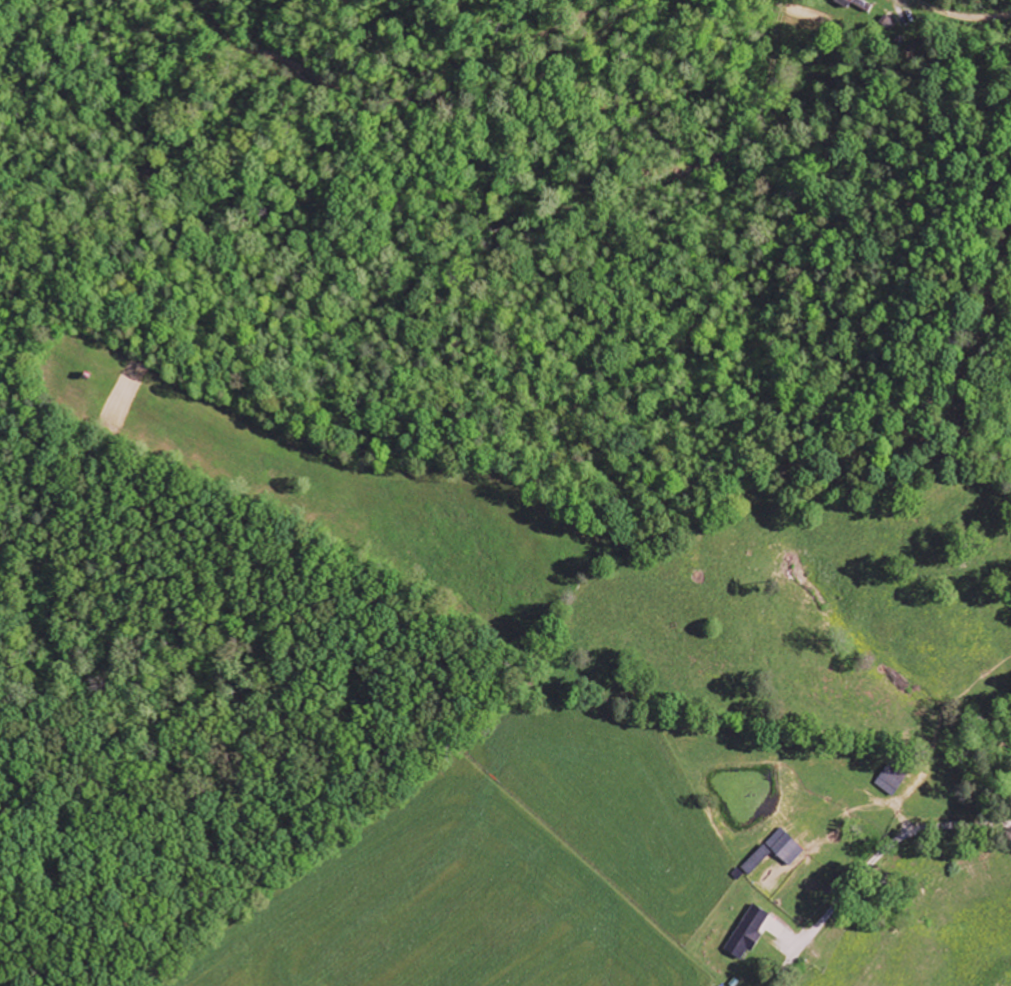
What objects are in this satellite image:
building: (852, 2)
road: (961, 15)
building: (892, 780)
road: (894, 845)
building: (784, 848)
building: (747, 933)

